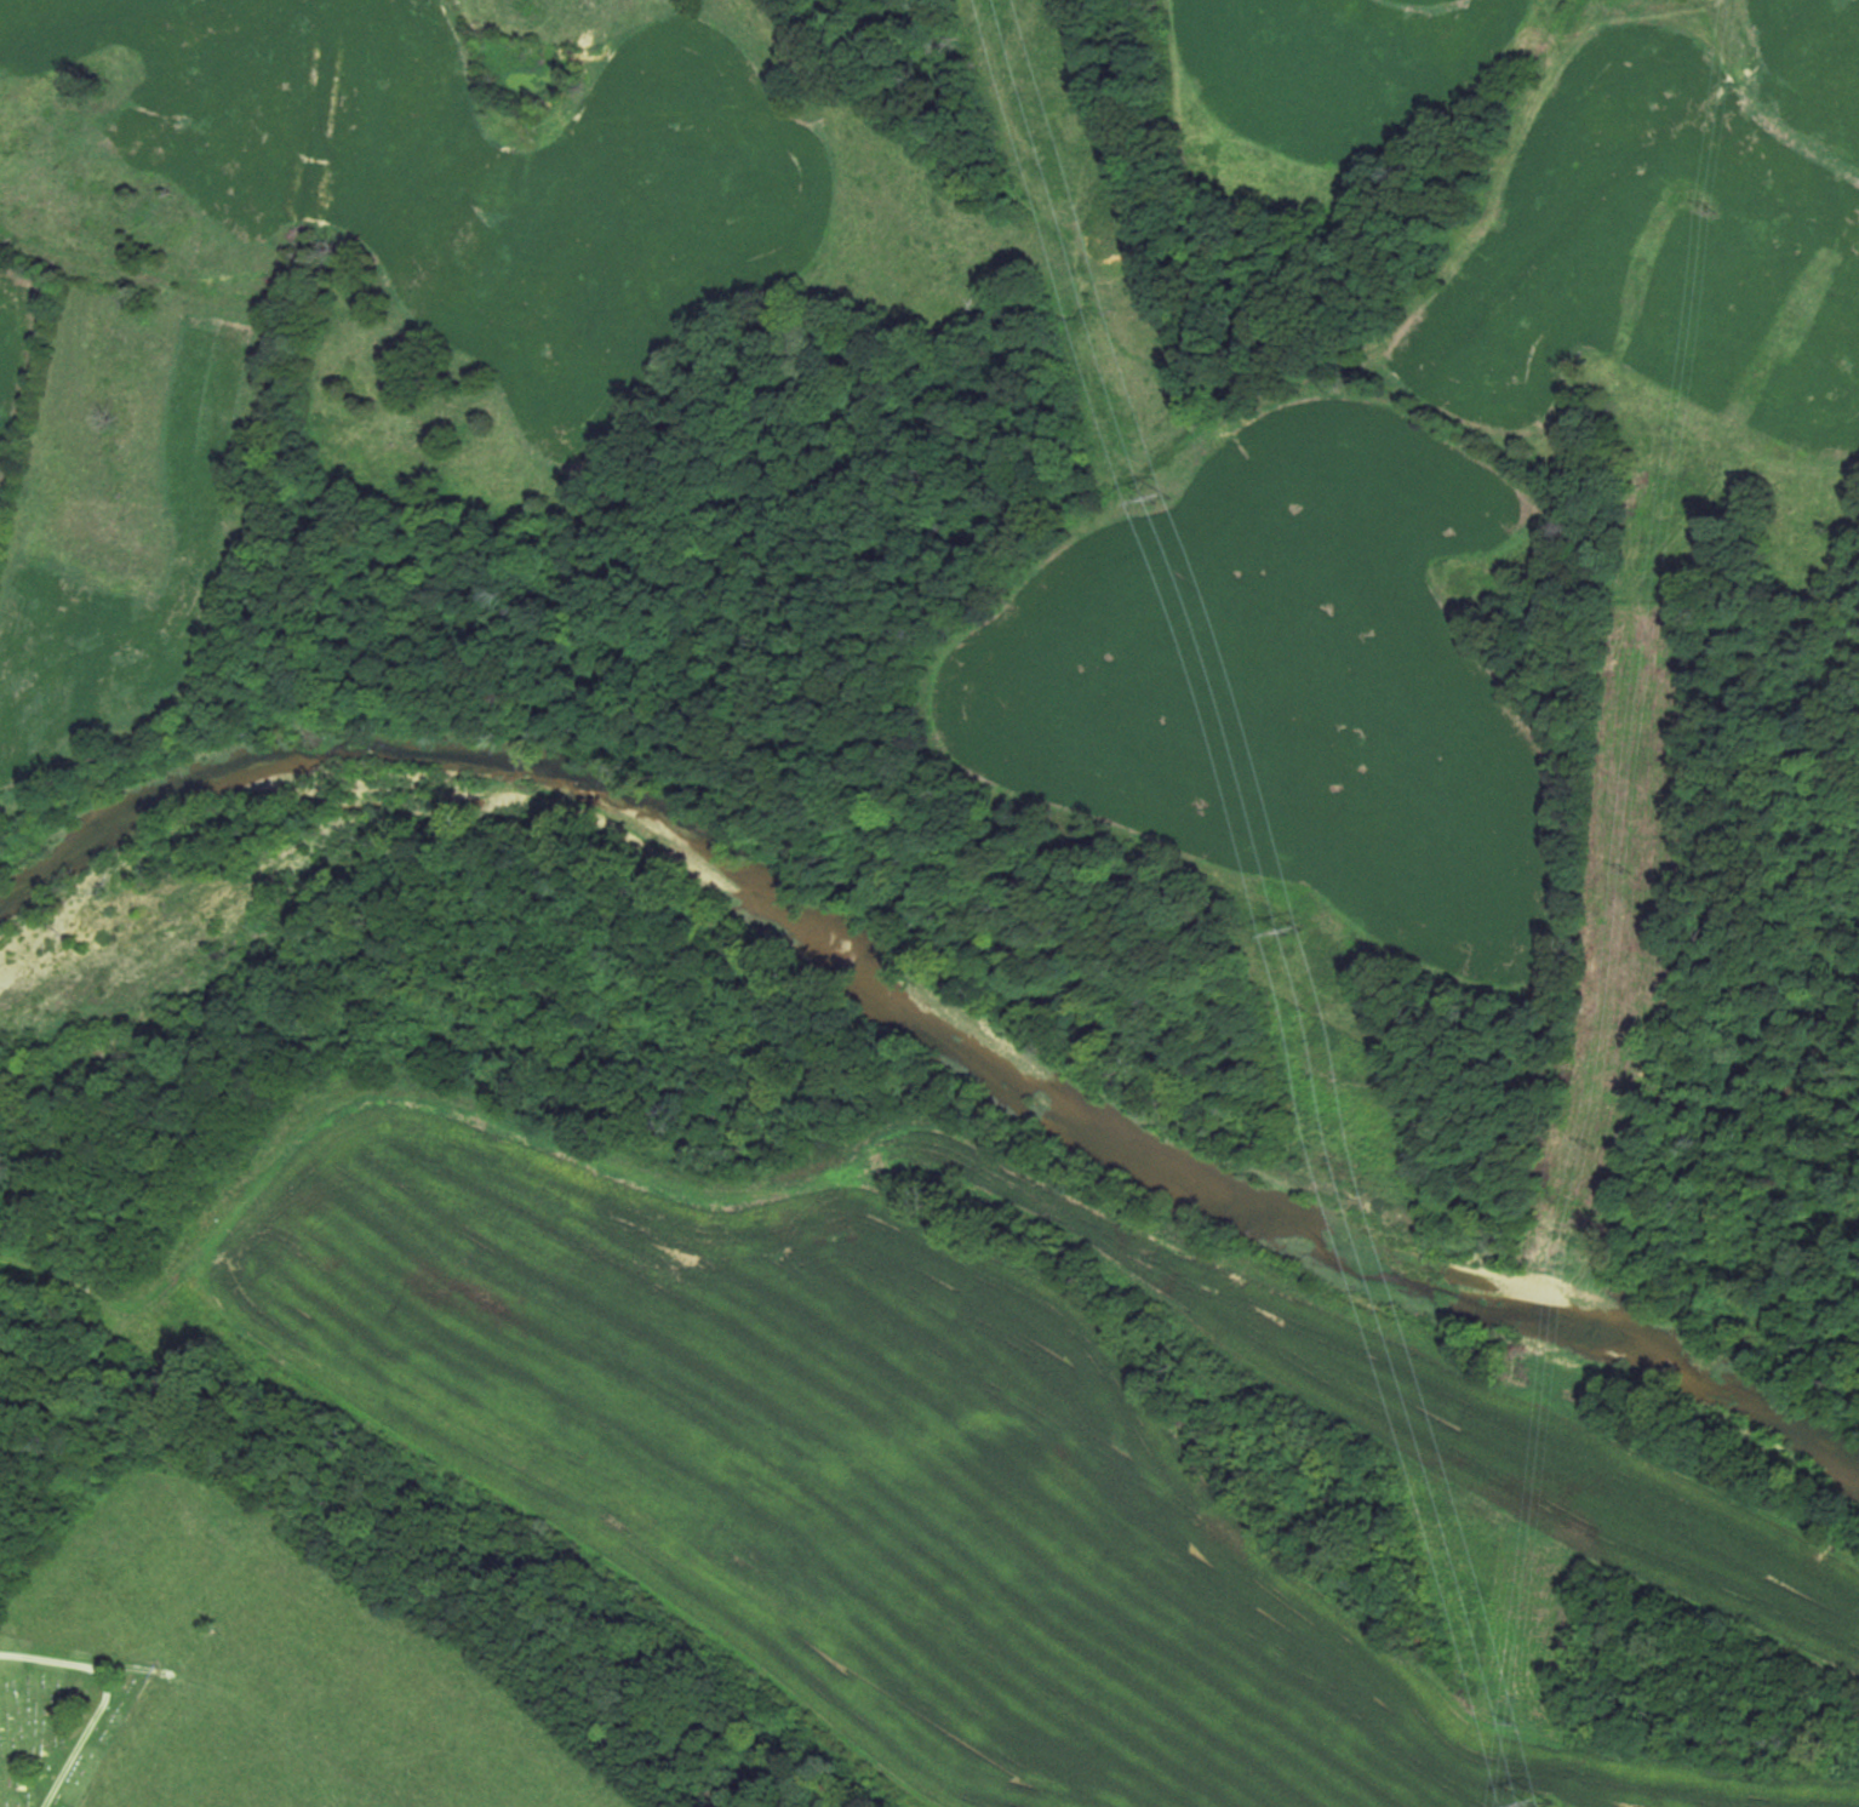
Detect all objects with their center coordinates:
power tower: (1161, 499)
power tower: (1287, 932)
building: (412, 1125)
road: (185, 1291)
park: (56, 1715)
power tower: (1545, 1801)

